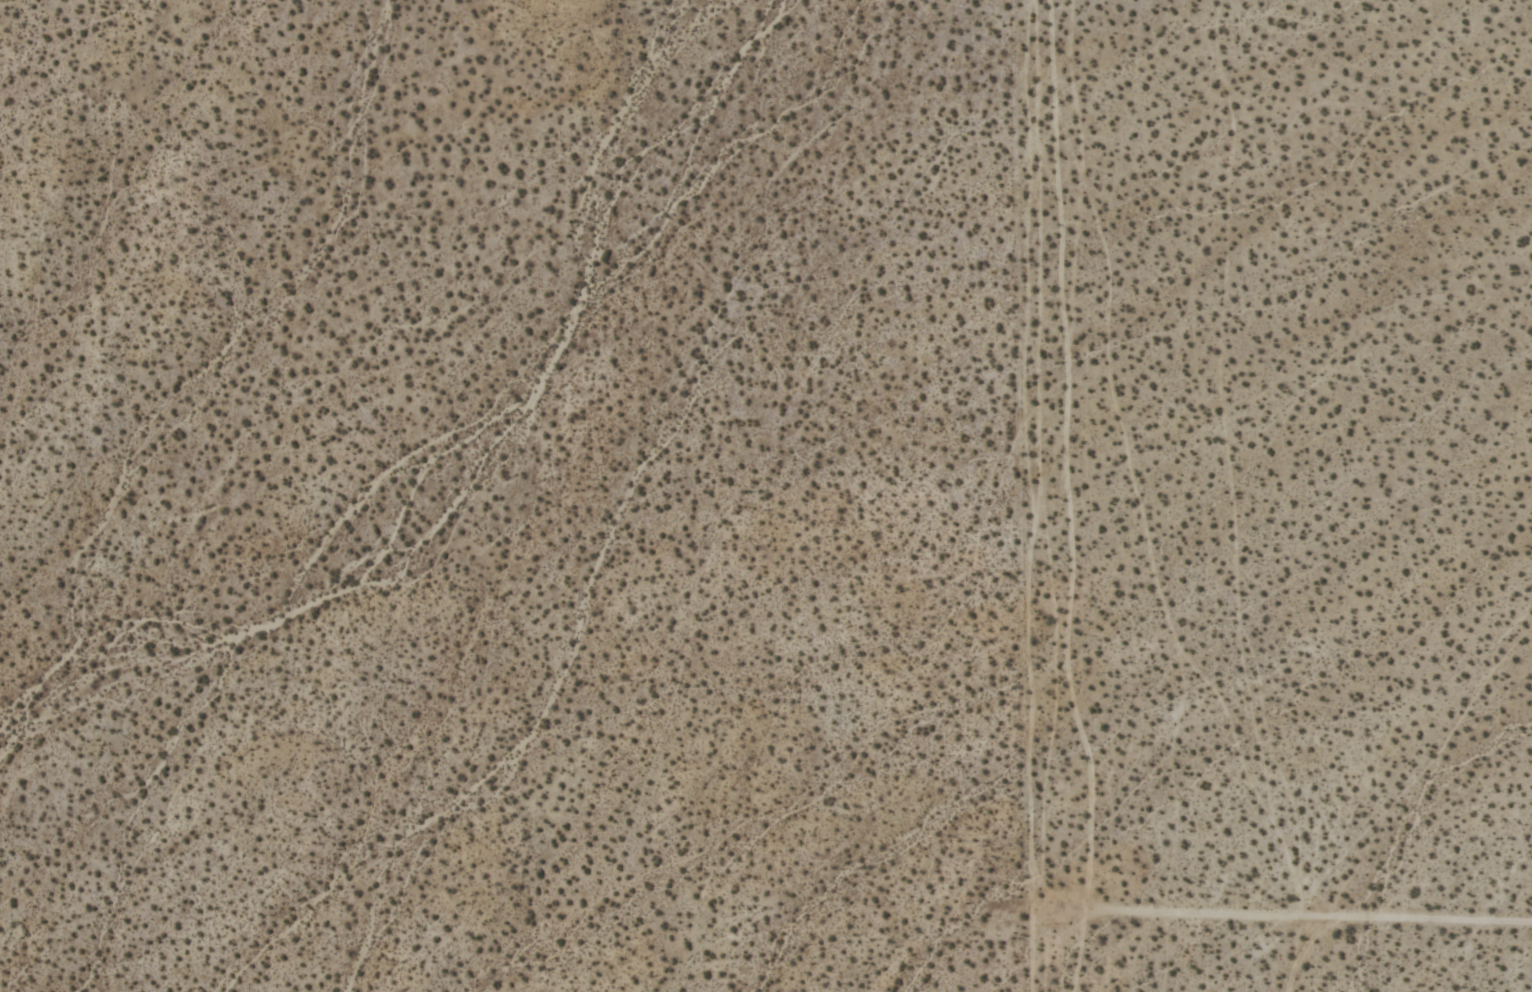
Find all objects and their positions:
crop: (1313, 493)
road: (1282, 922)

